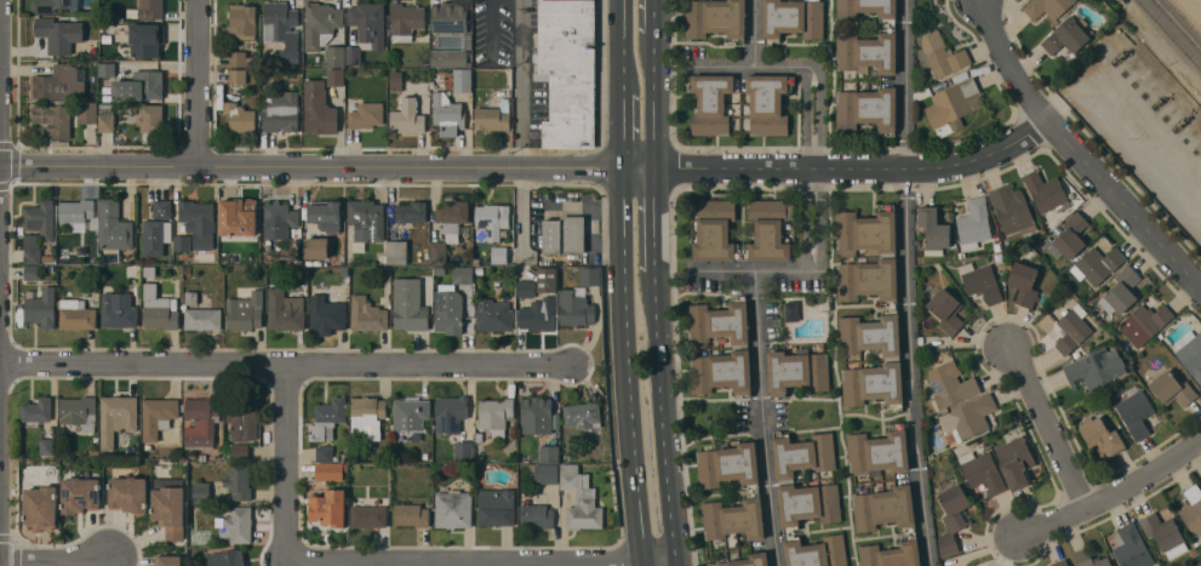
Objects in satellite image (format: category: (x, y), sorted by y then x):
building: (51, 5)
building: (1046, 7)
building: (150, 8)
building: (450, 16)
road: (656, 16)
railway: (1185, 16)
building: (715, 18)
building: (793, 18)
building: (406, 19)
building: (242, 21)
building: (320, 23)
building: (368, 23)
railway: (1178, 23)
building: (282, 29)
railway: (1171, 33)
building: (58, 34)
building: (1065, 35)
building: (846, 36)
building: (144, 39)
road: (623, 47)
building: (939, 53)
petroleum well: (1121, 53)
building: (353, 55)
building: (334, 56)
building: (448, 57)
building: (240, 58)
road: (751, 63)
building: (107, 68)
building: (567, 70)
building: (238, 75)
building: (336, 76)
building: (395, 79)
building: (462, 79)
building: (52, 81)
road: (195, 82)
road: (524, 84)
building: (139, 86)
building: (936, 87)
building: (921, 92)
petroleum well: (1159, 99)
road: (653, 101)
building: (711, 102)
building: (768, 103)
building: (951, 104)
building: (319, 108)
building: (868, 108)
building: (87, 112)
building: (282, 112)
building: (447, 112)
building: (366, 115)
road: (823, 115)
building: (105, 116)
building: (240, 116)
building: (407, 116)
building: (493, 116)
building: (150, 118)
road: (807, 118)
building: (55, 121)
petroleum well: (1179, 122)
road: (622, 131)
road: (1128, 139)
road: (1079, 149)
road: (531, 167)
road: (0, 182)
building: (1046, 191)
building: (162, 208)
building: (1012, 208)
building: (411, 211)
building: (78, 212)
building: (326, 215)
building: (239, 216)
building: (41, 218)
building: (492, 218)
building: (279, 219)
road: (653, 219)
road: (807, 219)
building: (199, 222)
building: (366, 222)
building: (974, 223)
road: (820, 224)
building: (448, 227)
building: (114, 229)
building: (933, 230)
building: (714, 233)
building: (565, 234)
building: (156, 236)
building: (1069, 238)
building: (32, 240)
building: (182, 242)
building: (1043, 242)
building: (997, 246)
building: (316, 250)
building: (396, 252)
building: (499, 255)
building: (33, 256)
building: (1097, 264)
building: (1008, 265)
building: (440, 270)
road: (748, 270)
building: (33, 271)
building: (150, 271)
building: (590, 275)
building: (548, 279)
building: (980, 281)
road: (907, 284)
building: (1023, 284)
building: (526, 287)
building: (1120, 292)
building: (191, 297)
building: (456, 298)
building: (408, 304)
building: (893, 307)
building: (42, 308)
building: (159, 308)
building: (576, 308)
building: (118, 309)
building: (245, 310)
building: (285, 310)
building: (791, 310)
building: (946, 310)
building: (328, 313)
building: (76, 314)
building: (367, 314)
building: (538, 314)
building: (493, 315)
building: (204, 318)
building: (1144, 322)
building: (1073, 327)
building: (921, 344)
building: (739, 345)
building: (1190, 351)
road: (286, 365)
road: (628, 366)
building: (1094, 367)
building: (797, 370)
building: (950, 383)
building: (1172, 388)
building: (38, 408)
building: (79, 411)
building: (412, 411)
building: (1136, 411)
building: (451, 412)
building: (494, 415)
building: (536, 415)
building: (583, 415)
building: (158, 416)
building: (367, 416)
building: (972, 416)
building: (116, 417)
road: (662, 417)
building: (327, 418)
road: (761, 418)
building: (201, 419)
building: (244, 421)
road: (1047, 427)
building: (1102, 435)
building: (47, 446)
building: (241, 450)
building: (464, 450)
building: (879, 451)
building: (325, 453)
building: (549, 453)
building: (1016, 461)
road: (290, 465)
building: (328, 470)
building: (983, 471)
building: (545, 473)
building: (239, 481)
building: (755, 490)
building: (201, 491)
road: (1113, 492)
building: (80, 493)
building: (128, 493)
building: (581, 498)
building: (808, 498)
building: (170, 505)
building: (497, 505)
building: (41, 507)
building: (328, 508)
building: (452, 508)
building: (1191, 508)
building: (951, 513)
building: (411, 514)
building: (368, 515)
building: (537, 515)
building: (239, 524)
building: (865, 524)
building: (1163, 533)
building: (1131, 547)
building: (1193, 551)
building: (225, 558)
road: (55, 559)
building: (1090, 559)
building: (168, 560)
building: (747, 560)
building: (1060, 562)
road: (468, 565)
road: (644, 565)
road: (659, 565)
road: (676, 565)

